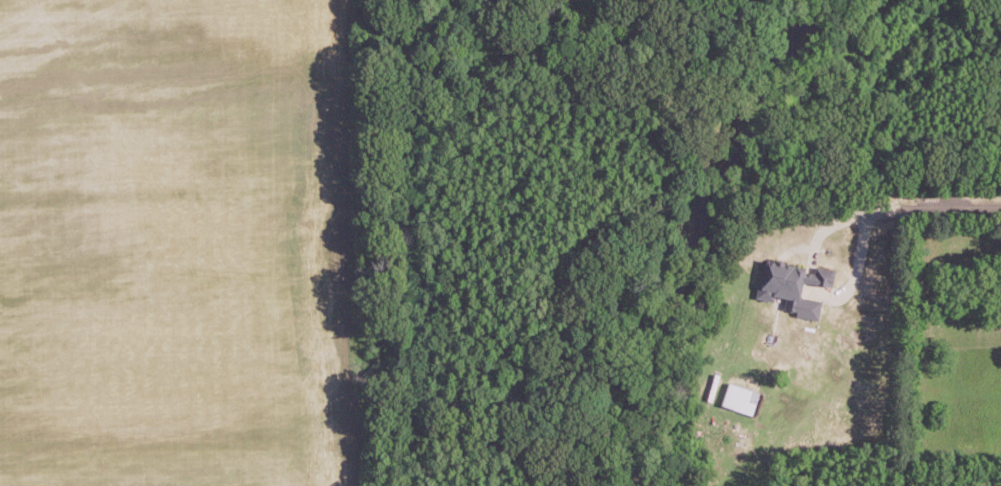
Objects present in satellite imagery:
road: (901, 195)
building: (792, 284)
building: (740, 397)

